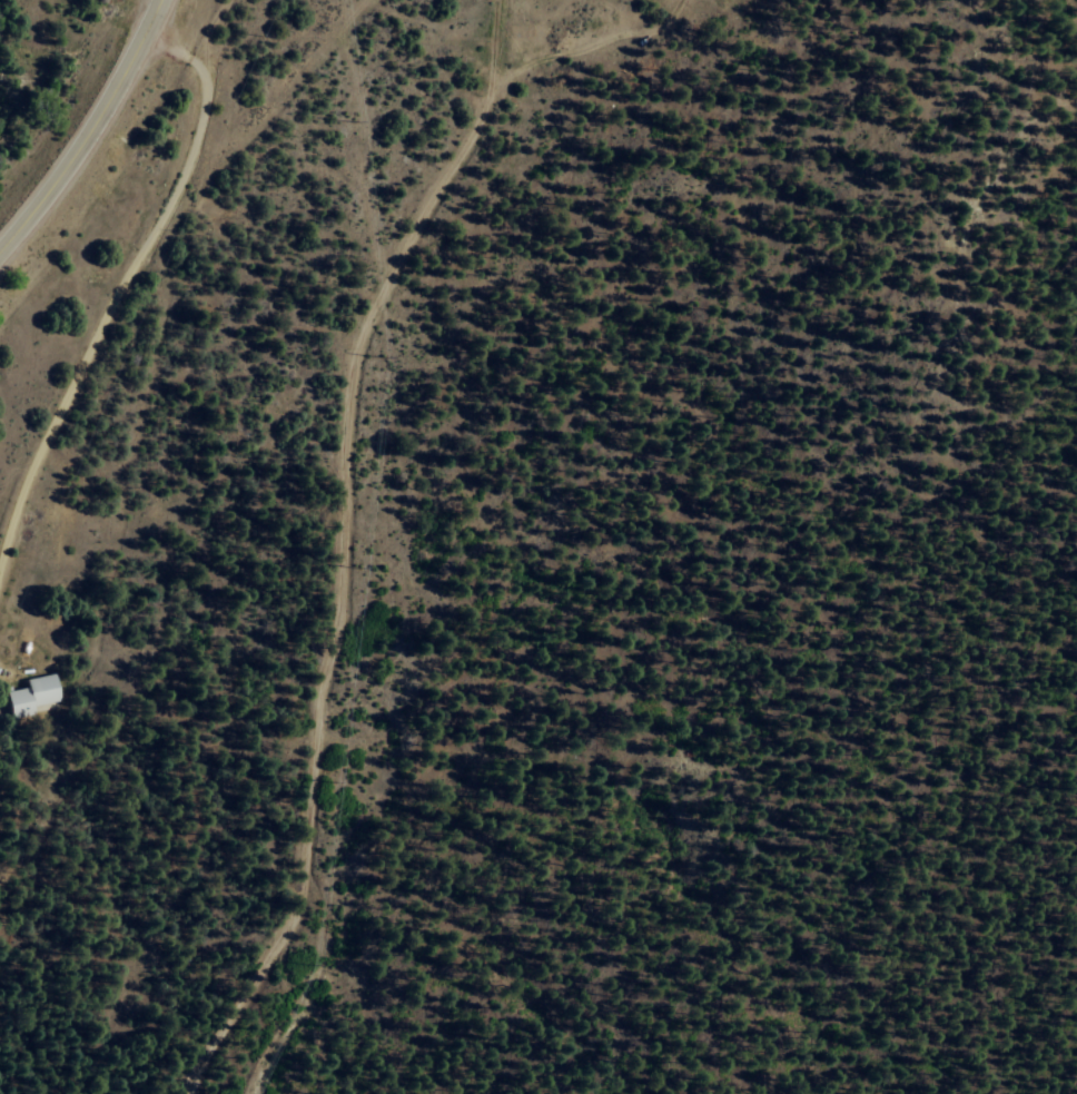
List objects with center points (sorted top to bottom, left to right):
road: (197, 55)
road: (88, 129)
road: (19, 200)
road: (109, 297)
road: (402, 573)
building: (32, 694)

